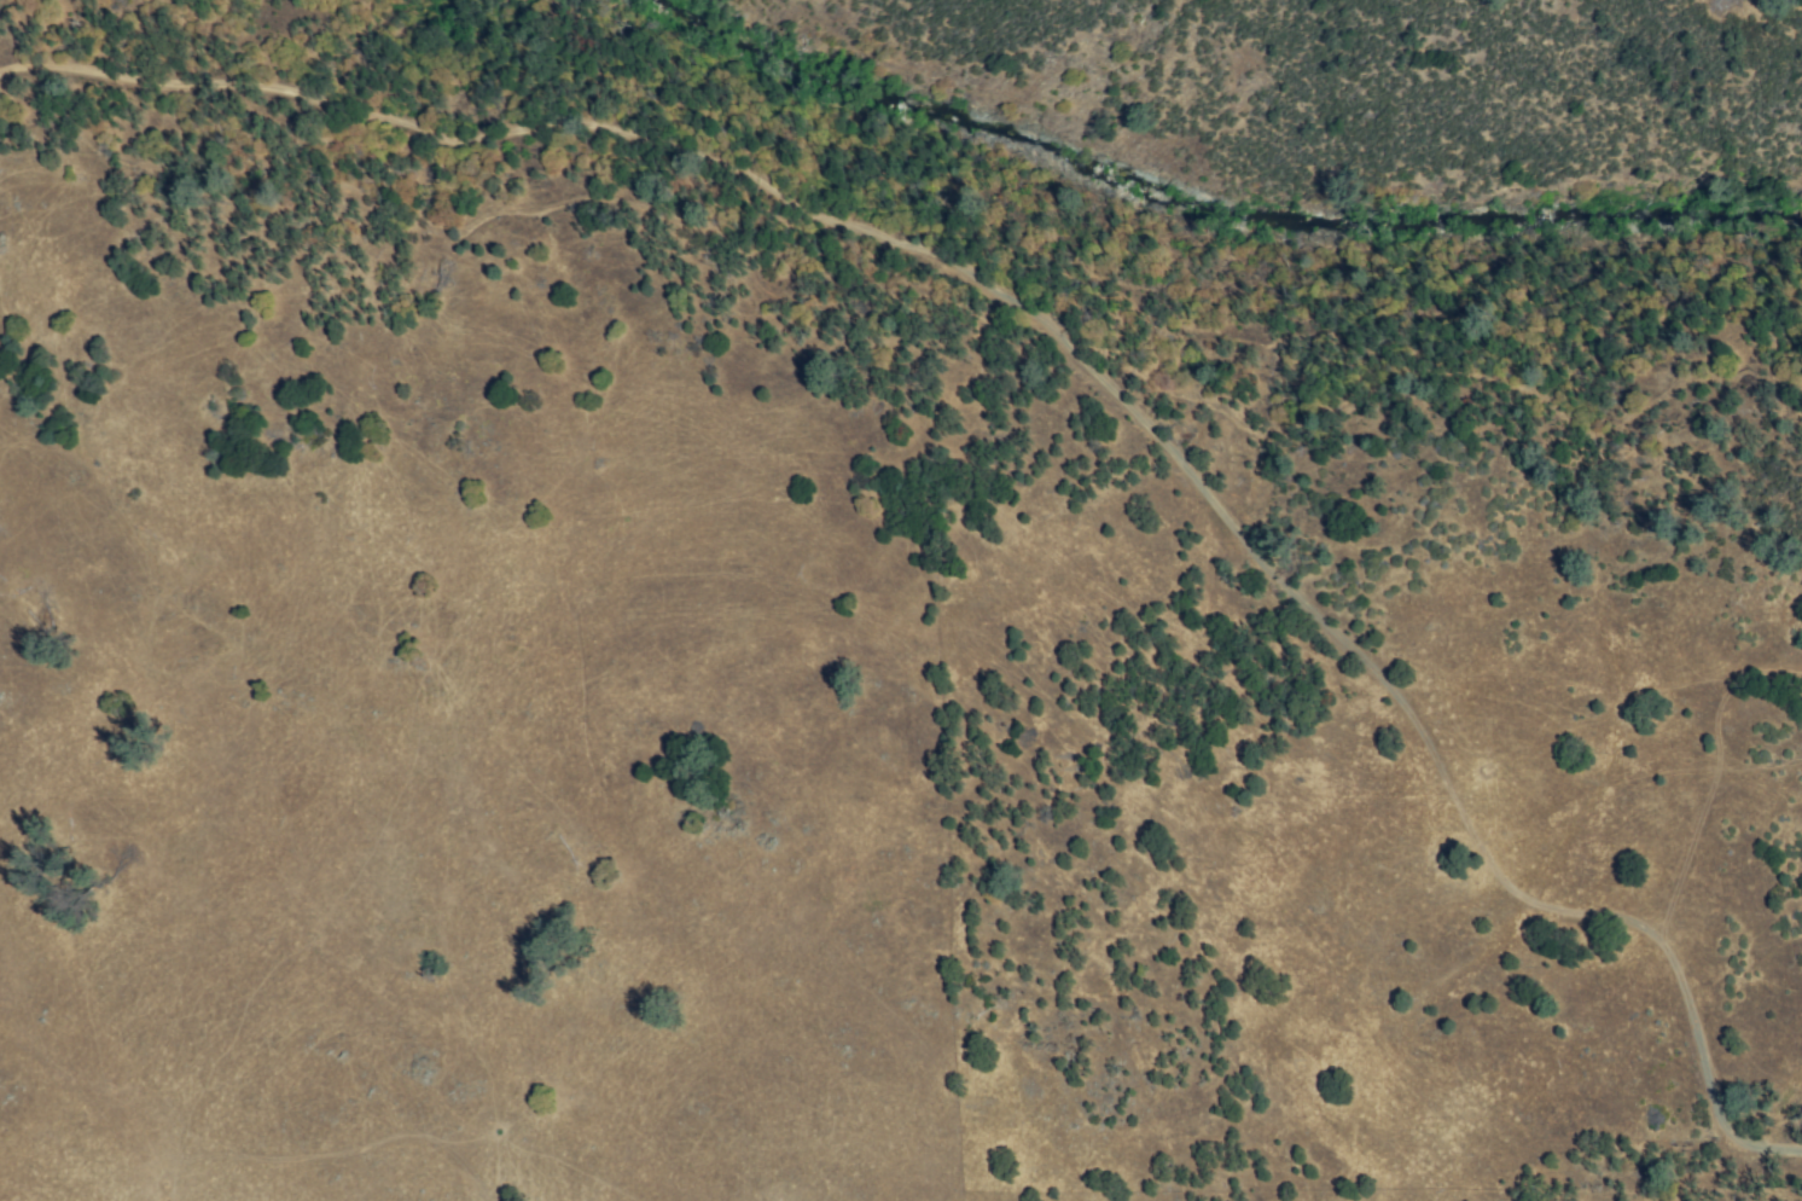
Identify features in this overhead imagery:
road: (1075, 350)

